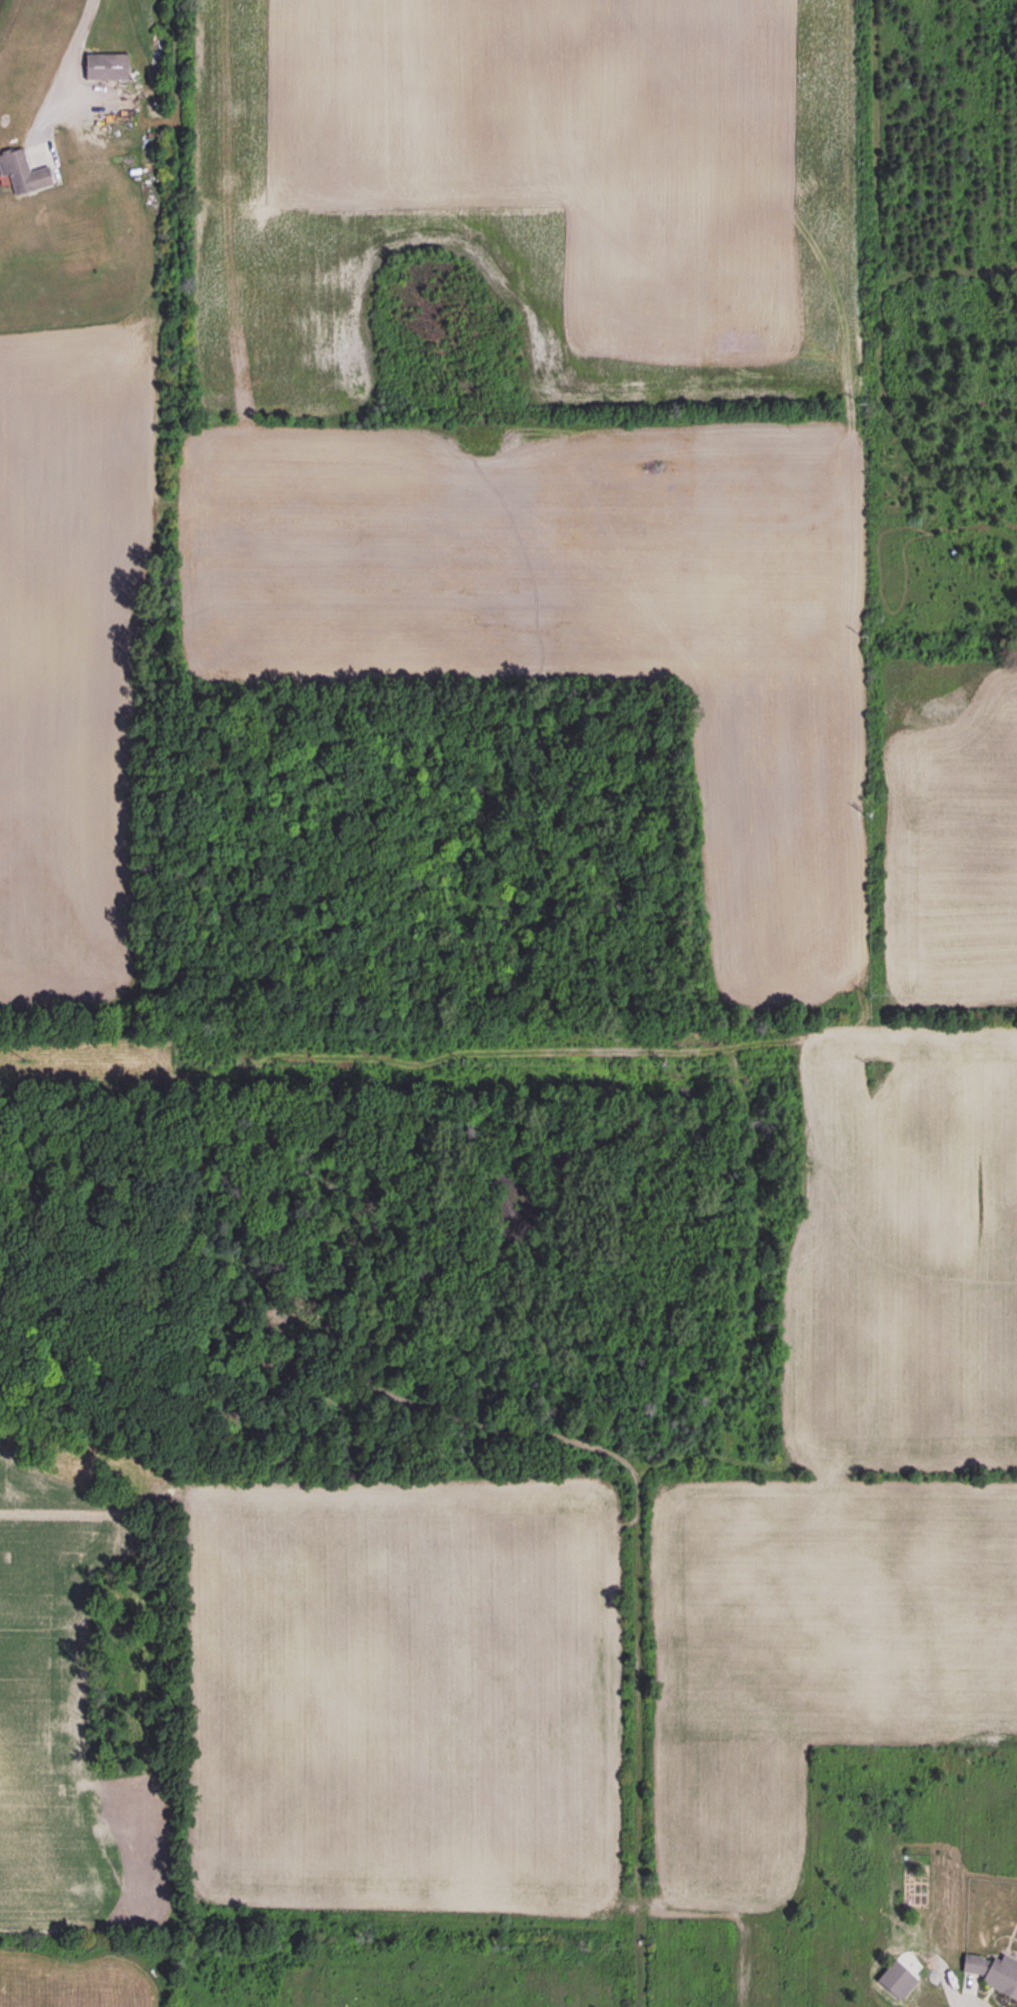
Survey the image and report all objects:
road: (75, 42)
building: (107, 65)
building: (22, 171)
building: (987, 1968)

